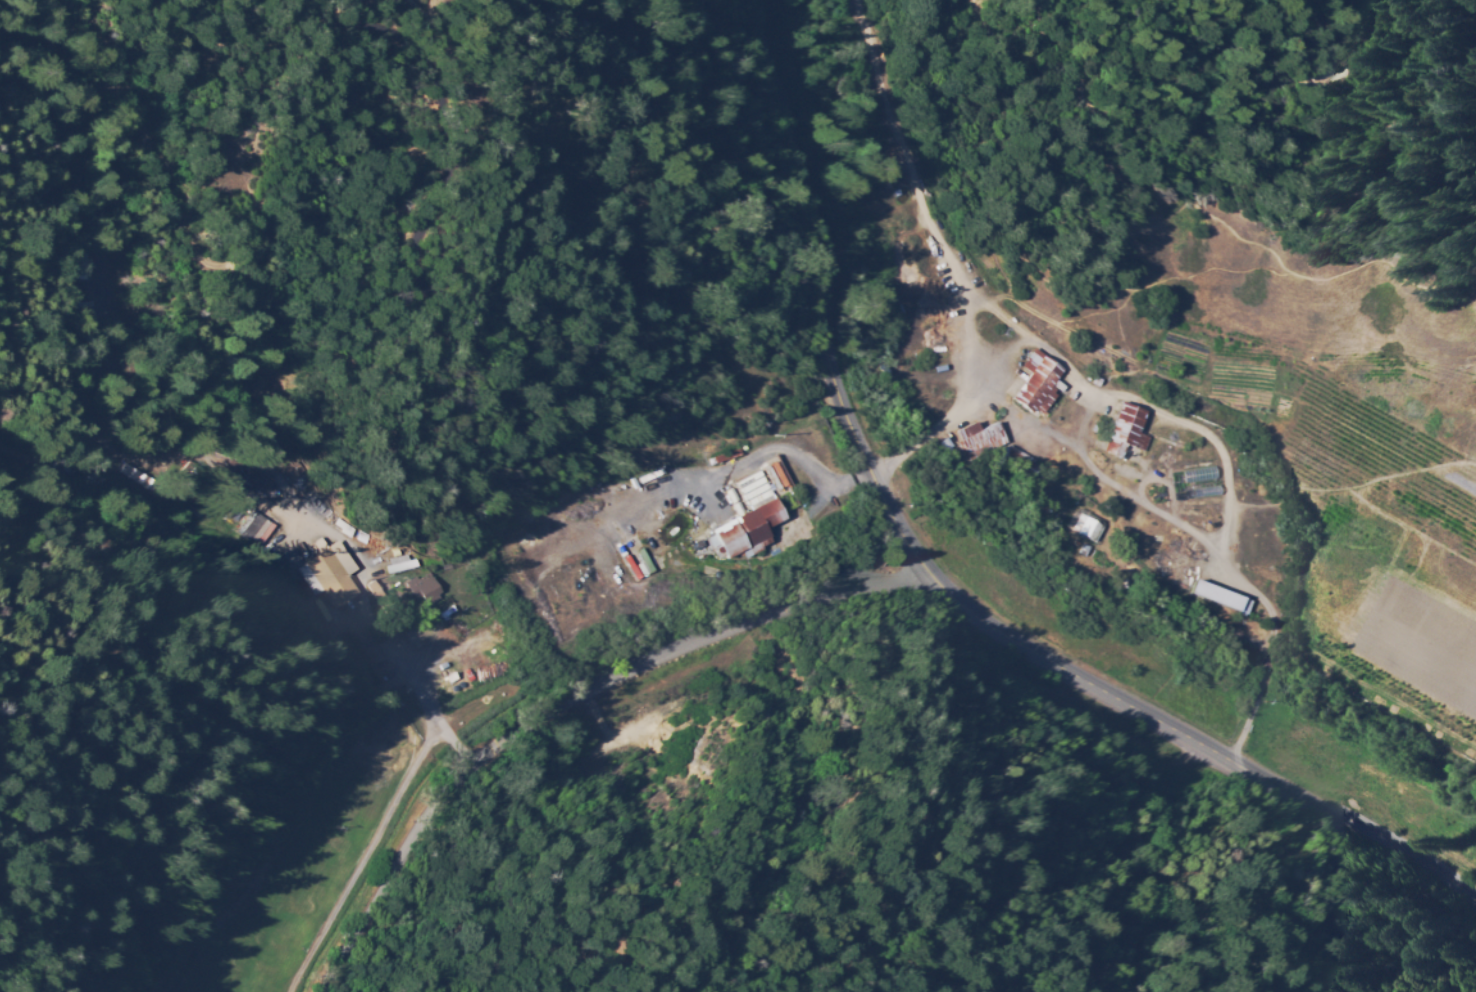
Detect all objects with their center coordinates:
building: (845, 22)
building: (1033, 382)
building: (274, 389)
road: (1188, 419)
building: (1123, 431)
building: (976, 438)
building: (729, 457)
road: (797, 460)
building: (296, 472)
building: (152, 478)
building: (260, 480)
building: (769, 482)
building: (757, 487)
building: (326, 510)
building: (1082, 527)
building: (761, 531)
building: (402, 564)
building: (423, 564)
building: (449, 568)
building: (711, 574)
building: (328, 578)
building: (379, 578)
road: (945, 583)
building: (376, 589)
building: (425, 589)
building: (1216, 598)
road: (1210, 614)
building: (475, 629)
road: (560, 697)
park: (291, 865)
road: (250, 866)
road: (352, 867)

